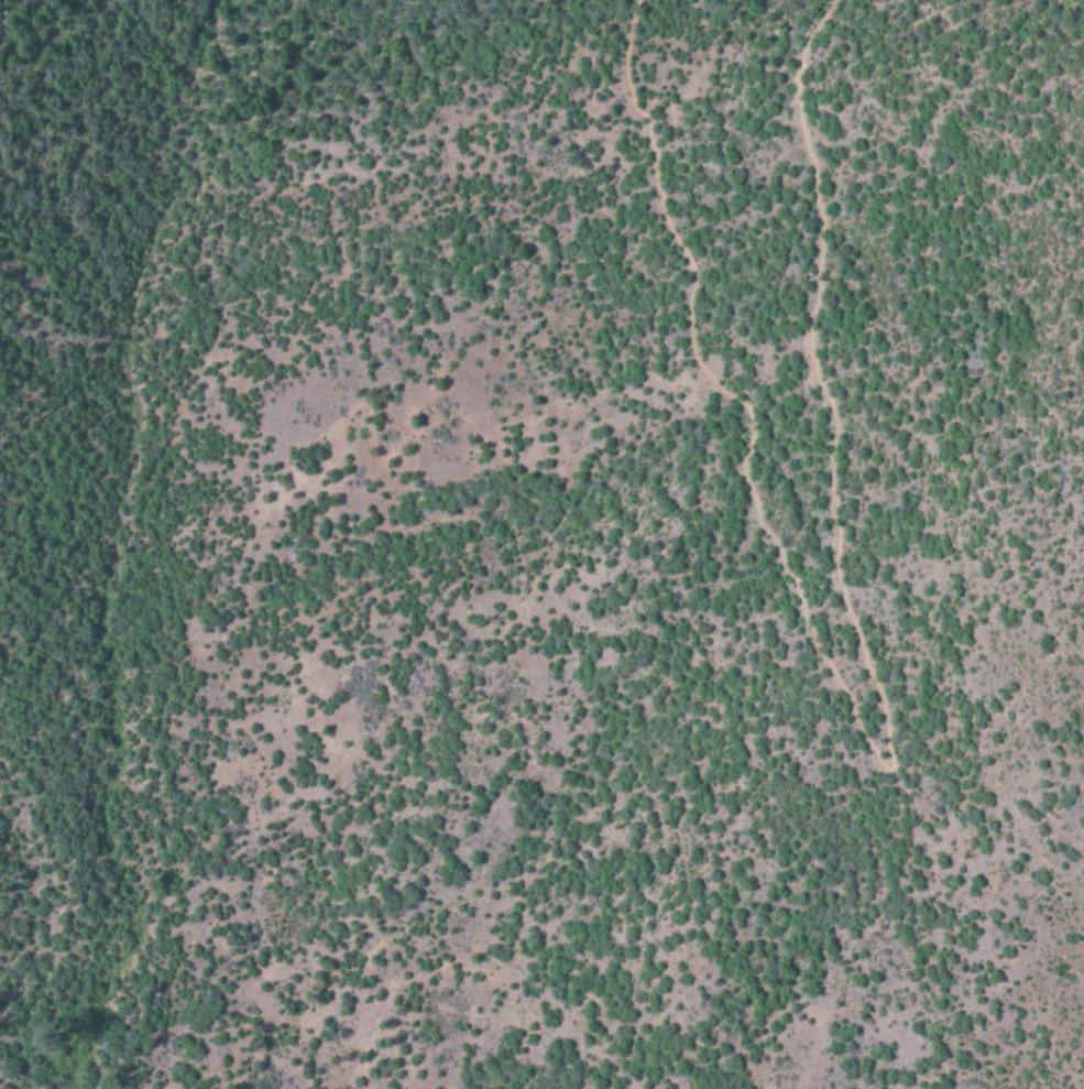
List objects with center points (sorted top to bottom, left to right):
road: (873, 753)

